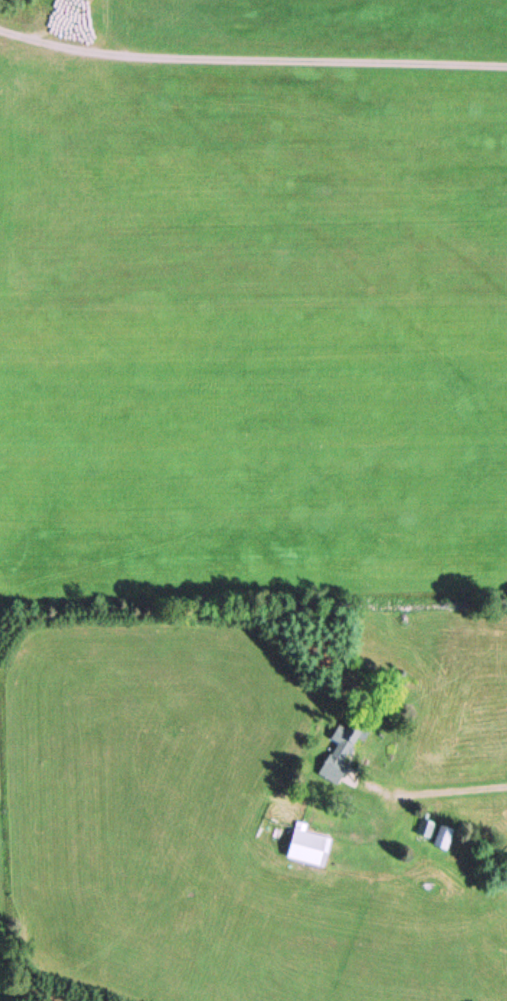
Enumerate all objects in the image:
building: (337, 763)
building: (311, 845)
building: (443, 845)

